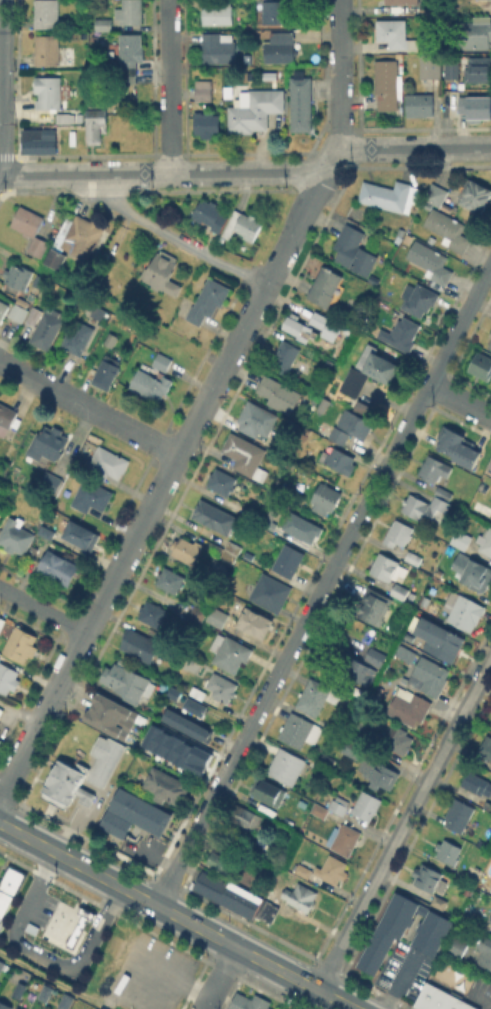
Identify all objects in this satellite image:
building: (402, 1)
building: (429, 7)
building: (130, 12)
building: (217, 12)
building: (276, 12)
building: (46, 13)
building: (103, 23)
building: (395, 34)
building: (472, 34)
building: (83, 36)
building: (131, 46)
building: (280, 47)
building: (217, 48)
building: (49, 49)
building: (431, 65)
building: (453, 70)
building: (479, 71)
building: (123, 74)
road: (340, 74)
building: (387, 83)
road: (169, 86)
building: (203, 89)
building: (50, 91)
building: (420, 104)
building: (301, 105)
building: (479, 109)
building: (256, 112)
building: (64, 117)
building: (207, 123)
building: (97, 126)
building: (37, 142)
road: (414, 148)
road: (329, 163)
road: (161, 173)
building: (436, 194)
building: (475, 194)
building: (386, 196)
building: (210, 214)
building: (27, 222)
building: (242, 225)
road: (294, 231)
building: (450, 232)
road: (174, 237)
building: (83, 238)
building: (38, 248)
building: (355, 254)
building: (55, 261)
building: (431, 263)
building: (162, 273)
building: (18, 278)
building: (325, 286)
building: (421, 299)
building: (208, 300)
road: (112, 305)
building: (3, 308)
building: (19, 311)
building: (33, 314)
building: (323, 325)
building: (298, 328)
building: (47, 331)
building: (401, 333)
building: (490, 335)
building: (78, 337)
building: (112, 337)
building: (489, 344)
building: (284, 356)
building: (319, 359)
building: (162, 361)
building: (482, 365)
building: (370, 369)
building: (107, 371)
building: (150, 384)
building: (278, 393)
road: (460, 401)
road: (89, 407)
building: (6, 417)
building: (256, 418)
building: (351, 425)
building: (48, 444)
building: (461, 448)
building: (246, 455)
building: (341, 459)
building: (107, 463)
building: (489, 465)
building: (434, 468)
building: (50, 481)
building: (222, 481)
building: (444, 492)
building: (92, 496)
building: (326, 498)
building: (440, 502)
building: (423, 508)
building: (249, 512)
building: (215, 516)
road: (97, 524)
building: (270, 524)
building: (303, 527)
building: (48, 532)
building: (398, 533)
building: (82, 534)
building: (16, 535)
building: (461, 539)
road: (133, 540)
building: (485, 542)
building: (186, 548)
building: (231, 550)
building: (414, 557)
building: (288, 559)
building: (59, 567)
building: (388, 567)
building: (472, 571)
building: (170, 579)
road: (323, 585)
building: (399, 590)
building: (272, 594)
building: (375, 609)
road: (42, 610)
building: (463, 610)
building: (153, 613)
building: (197, 614)
building: (217, 616)
building: (255, 622)
building: (3, 625)
building: (406, 636)
building: (437, 638)
building: (21, 643)
building: (140, 644)
building: (230, 651)
building: (0, 652)
building: (403, 652)
building: (375, 656)
building: (360, 670)
building: (429, 675)
building: (8, 678)
building: (125, 682)
building: (221, 686)
building: (174, 692)
building: (198, 692)
building: (316, 696)
building: (409, 705)
building: (194, 706)
road: (19, 712)
building: (111, 720)
building: (188, 729)
building: (300, 729)
building: (0, 740)
building: (401, 741)
building: (354, 748)
building: (176, 749)
building: (486, 751)
building: (105, 763)
building: (326, 765)
building: (286, 767)
building: (378, 772)
building: (477, 782)
building: (68, 783)
building: (165, 785)
building: (269, 790)
building: (339, 804)
building: (366, 804)
building: (320, 809)
building: (135, 813)
building: (459, 814)
building: (246, 815)
road: (404, 824)
building: (344, 838)
building: (448, 850)
building: (218, 859)
building: (306, 866)
building: (332, 868)
building: (472, 873)
building: (429, 877)
building: (9, 885)
building: (218, 887)
building: (490, 889)
building: (301, 895)
building: (439, 901)
building: (247, 902)
road: (65, 908)
building: (264, 909)
road: (176, 915)
building: (490, 917)
building: (1, 920)
building: (430, 932)
building: (50, 935)
building: (460, 941)
building: (484, 950)
road: (40, 957)
building: (1, 962)
building: (2, 970)
road: (176, 974)
road: (219, 977)
road: (53, 981)
road: (399, 981)
building: (18, 989)
building: (46, 993)
road: (480, 995)
building: (441, 999)
building: (63, 1000)
building: (250, 1001)
building: (5, 1005)
building: (283, 1008)

